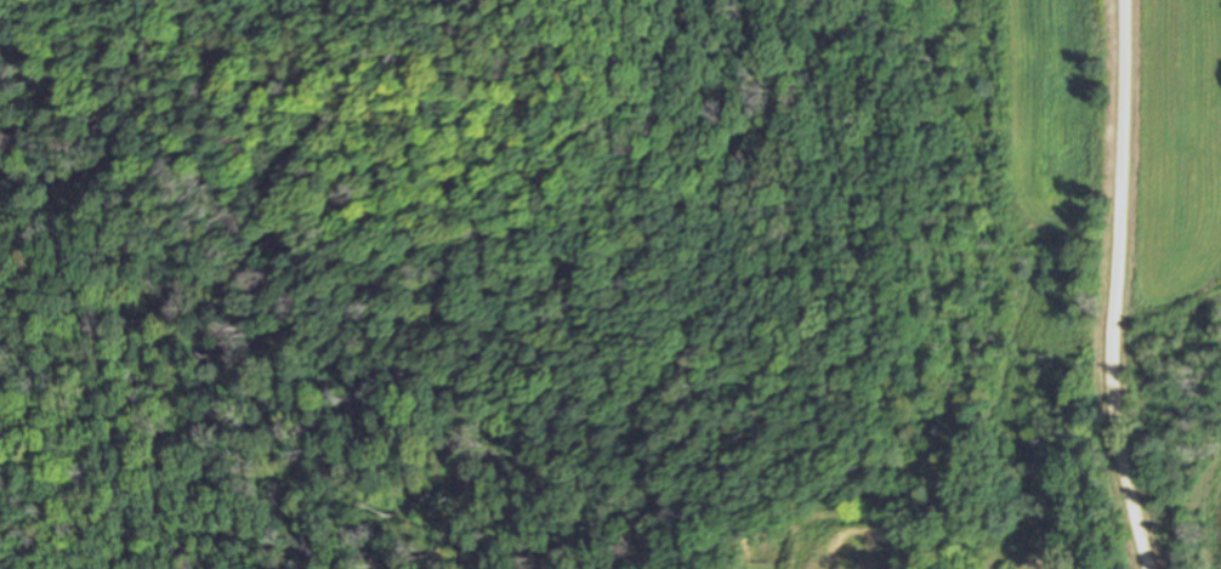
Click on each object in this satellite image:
road: (1117, 286)

